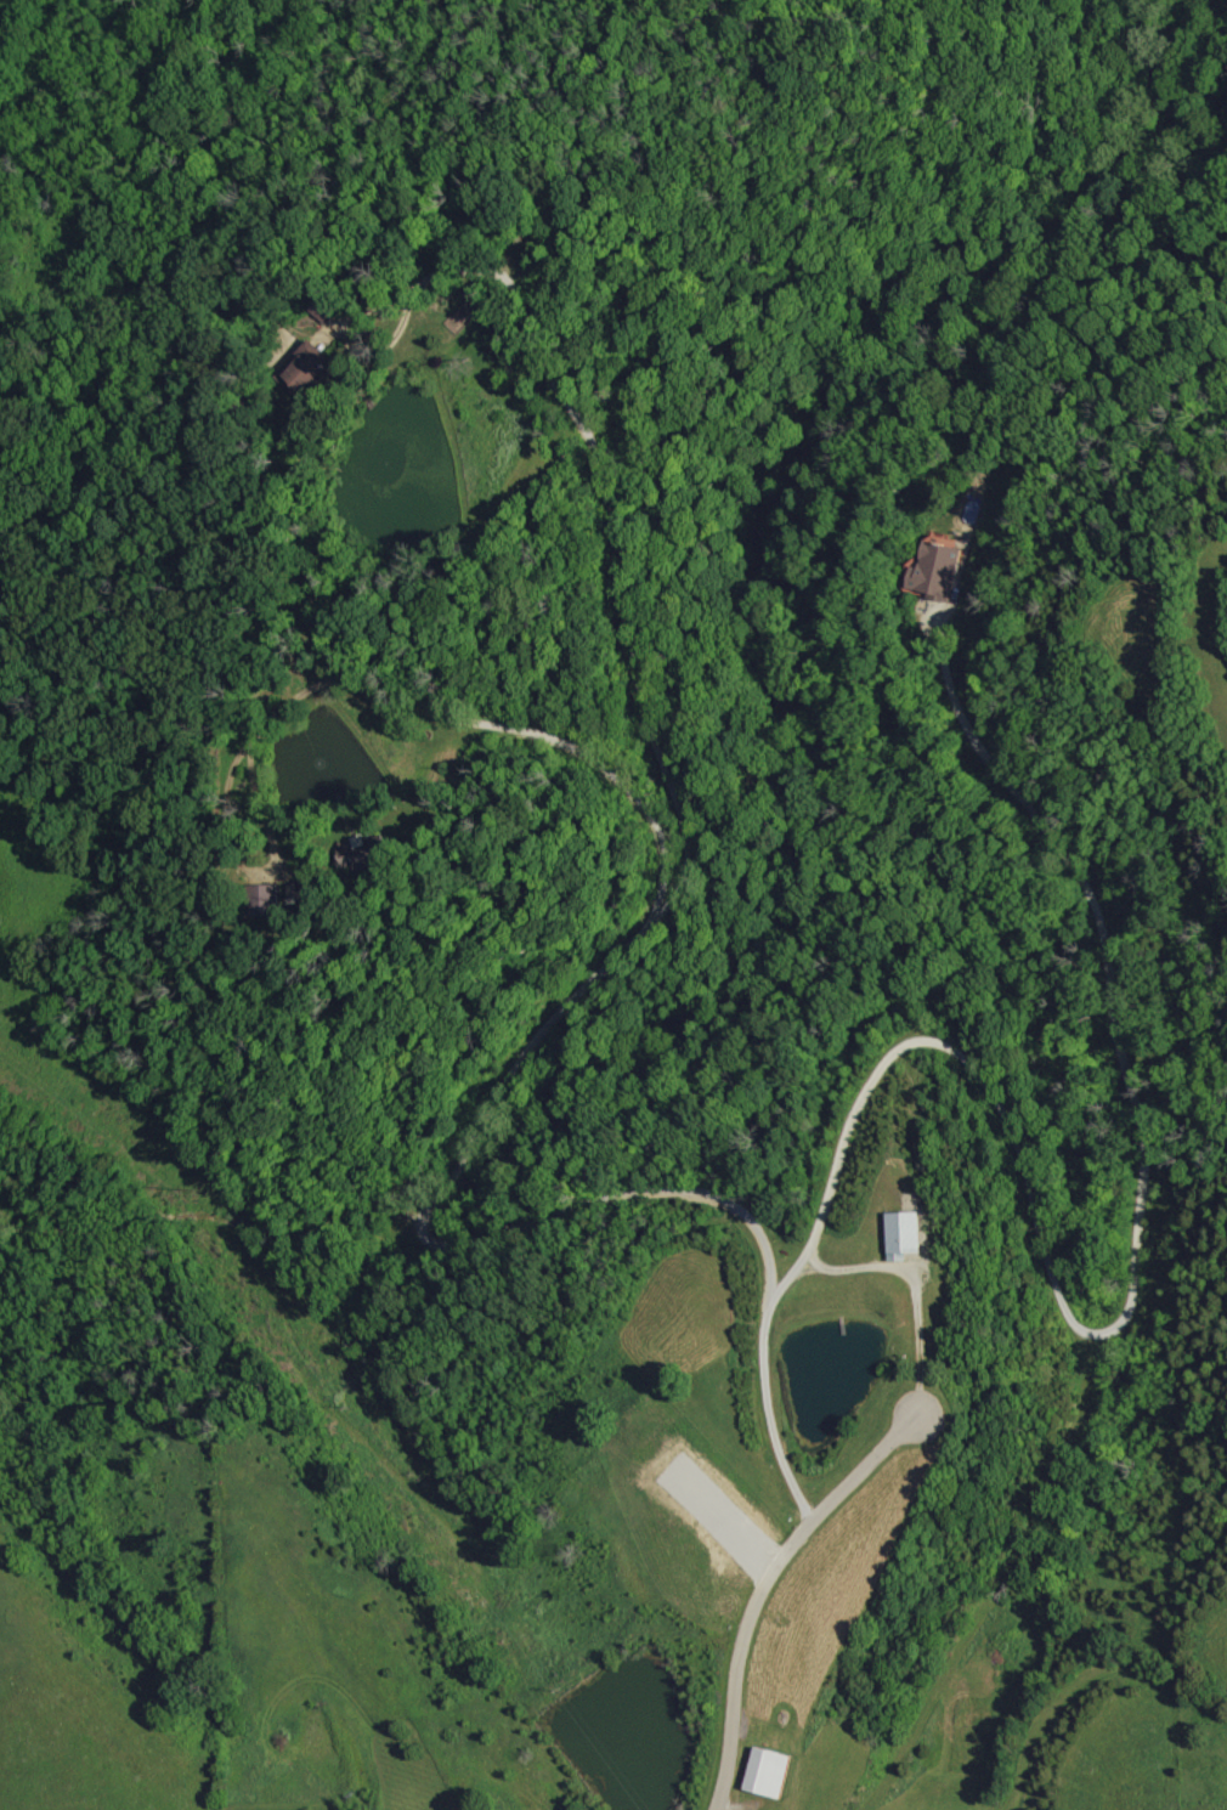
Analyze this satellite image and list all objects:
building: (327, 307)
building: (306, 369)
road: (612, 525)
building: (935, 570)
road: (423, 713)
building: (358, 854)
building: (264, 900)
road: (448, 1235)
road: (801, 1288)
road: (1130, 1288)
road: (770, 1591)
building: (768, 1771)

